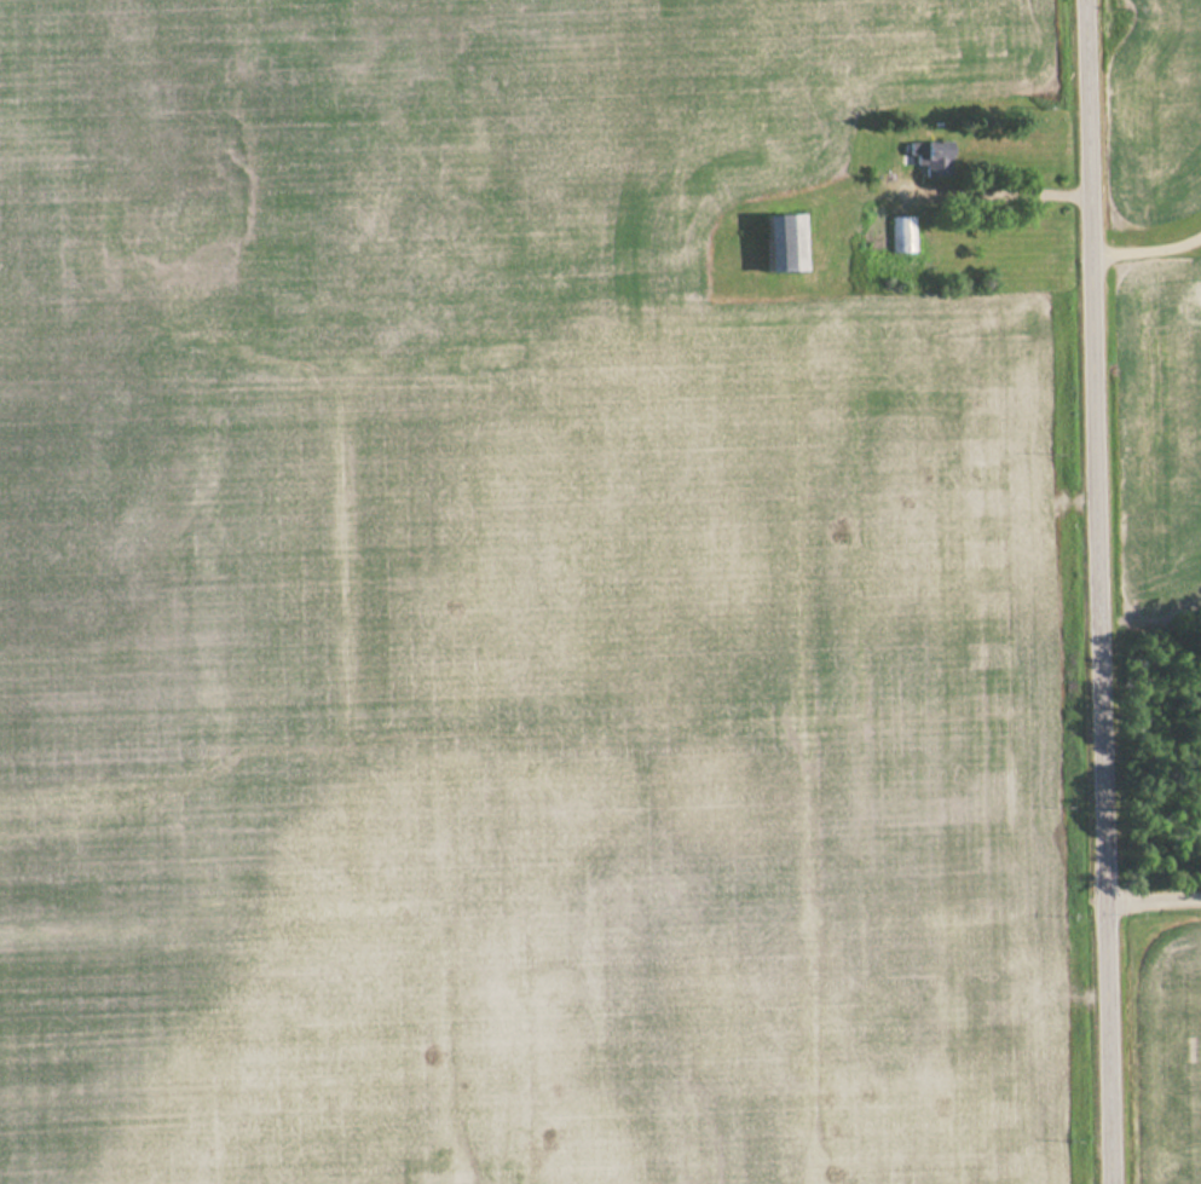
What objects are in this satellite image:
building: (931, 158)
building: (781, 243)
road: (1104, 591)

